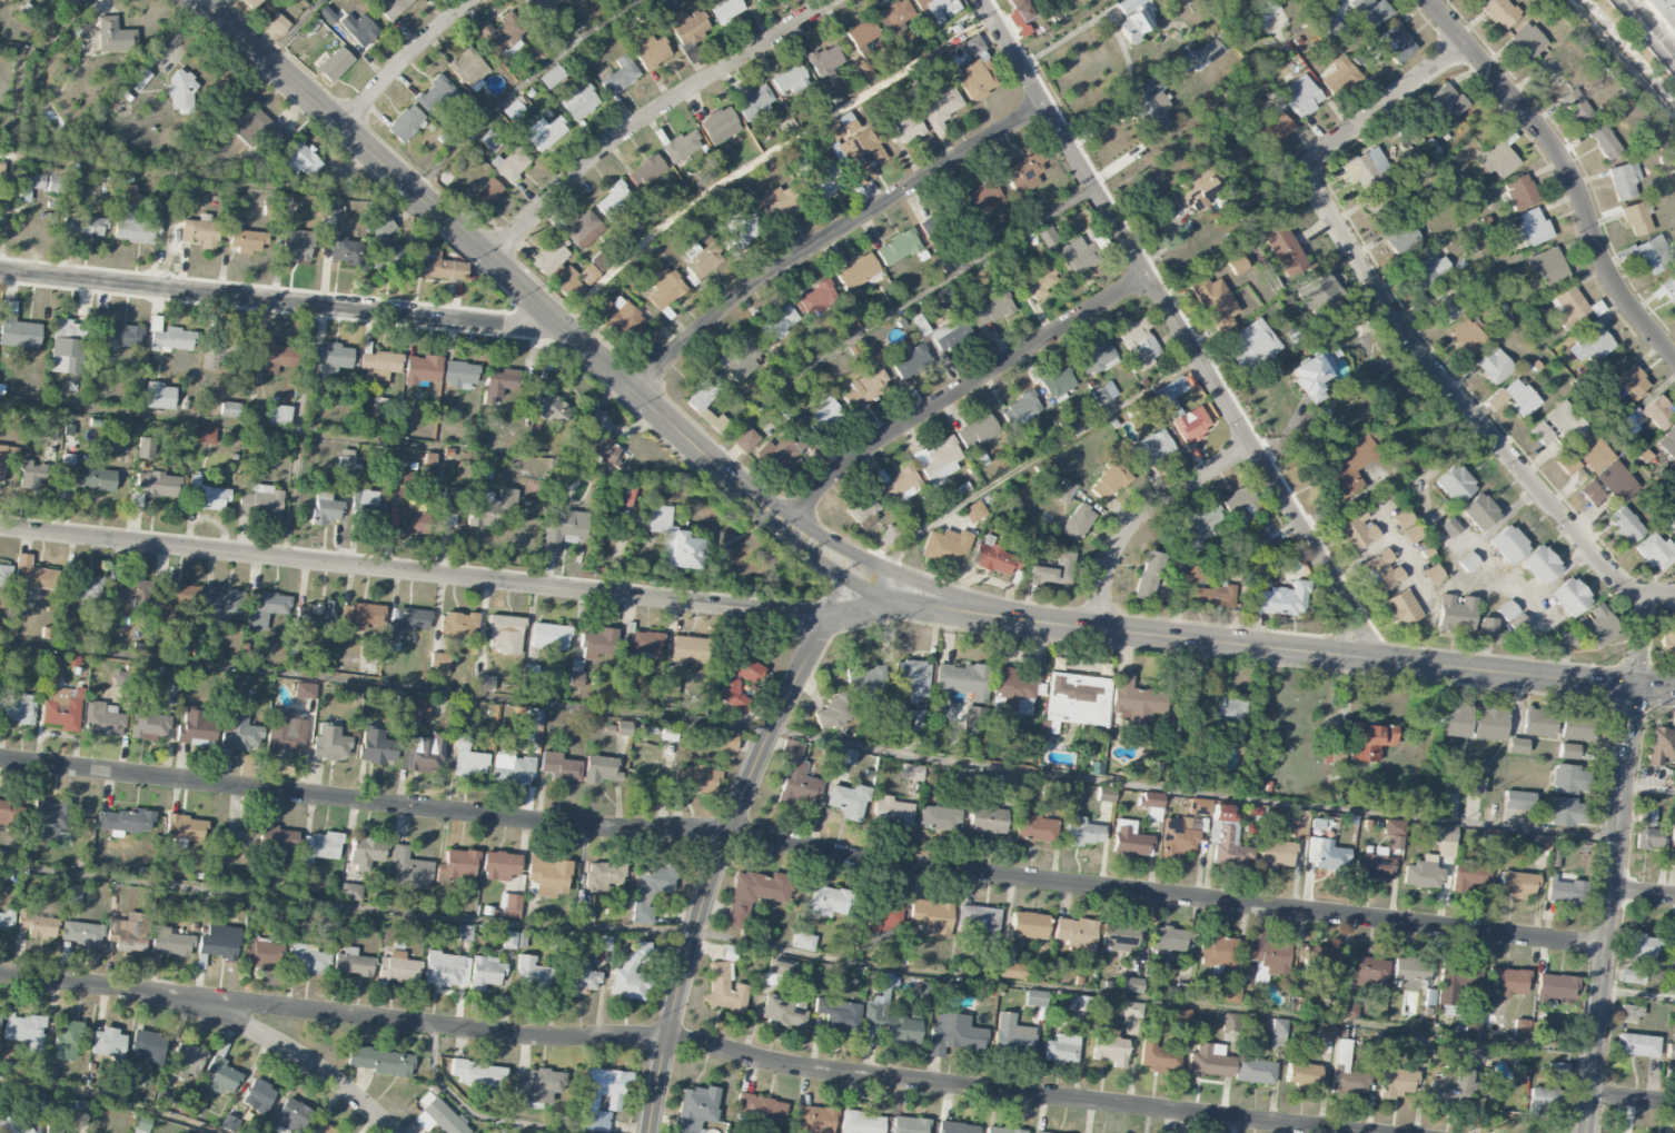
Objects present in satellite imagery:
building: (1338, 0)
building: (1473, 0)
building: (759, 1)
building: (252, 3)
building: (67, 4)
building: (543, 6)
building: (392, 8)
building: (936, 8)
building: (725, 9)
building: (1266, 9)
building: (1370, 11)
building: (1499, 12)
building: (1663, 13)
building: (1020, 14)
building: (894, 18)
building: (1132, 19)
building: (278, 23)
building: (1330, 24)
building: (688, 27)
road: (293, 29)
building: (358, 29)
building: (113, 36)
building: (500, 36)
building: (861, 36)
building: (1527, 40)
building: (1395, 43)
building: (973, 44)
building: (652, 52)
building: (1203, 53)
road: (404, 61)
building: (825, 62)
building: (335, 63)
building: (468, 67)
building: (620, 76)
building: (1339, 76)
building: (138, 78)
building: (972, 80)
building: (790, 81)
road: (521, 87)
building: (180, 91)
building: (437, 95)
building: (1301, 96)
building: (579, 101)
building: (1445, 101)
building: (754, 102)
building: (1149, 102)
building: (936, 103)
building: (1576, 108)
road: (650, 116)
building: (405, 123)
building: (718, 126)
building: (1276, 126)
building: (257, 129)
building: (904, 129)
building: (545, 133)
building: (1603, 140)
building: (681, 146)
road: (765, 156)
building: (1496, 158)
building: (300, 160)
building: (512, 165)
building: (1364, 168)
building: (646, 169)
building: (1, 172)
road: (1566, 172)
building: (1023, 173)
road: (207, 179)
building: (826, 180)
building: (1623, 180)
building: (29, 183)
building: (54, 183)
building: (1197, 186)
building: (1519, 192)
building: (486, 195)
building: (981, 197)
building: (613, 199)
building: (779, 203)
building: (331, 207)
building: (1223, 212)
building: (1635, 218)
building: (131, 219)
building: (83, 226)
building: (1533, 227)
building: (741, 228)
building: (583, 229)
building: (199, 231)
road: (831, 236)
building: (1400, 237)
building: (247, 241)
building: (298, 245)
building: (385, 246)
building: (898, 247)
building: (1286, 249)
building: (346, 250)
building: (1654, 254)
building: (1076, 257)
building: (702, 259)
building: (434, 265)
building: (1237, 265)
building: (1547, 265)
building: (559, 269)
building: (1426, 269)
building: (856, 272)
building: (587, 275)
building: (1039, 280)
building: (1666, 288)
building: (665, 289)
building: (1321, 296)
building: (816, 298)
road: (285, 302)
building: (1215, 302)
building: (1448, 302)
building: (1568, 306)
road: (893, 310)
building: (990, 310)
building: (621, 316)
road: (1394, 320)
building: (777, 322)
building: (17, 328)
road: (1180, 330)
building: (950, 334)
building: (120, 336)
building: (1469, 336)
building: (171, 339)
building: (1590, 342)
building: (1139, 344)
building: (67, 346)
building: (1252, 346)
building: (216, 349)
building: (274, 357)
building: (741, 358)
building: (1096, 358)
building: (331, 359)
building: (911, 362)
building: (379, 364)
building: (1494, 366)
building: (423, 369)
building: (460, 375)
building: (1310, 375)
building: (1058, 382)
building: (1631, 382)
building: (498, 384)
building: (866, 388)
building: (702, 392)
road: (961, 392)
building: (1103, 394)
building: (159, 396)
building: (1520, 397)
building: (1021, 408)
building: (229, 409)
building: (1171, 409)
building: (553, 410)
building: (823, 410)
building: (1657, 414)
building: (283, 415)
building: (791, 415)
building: (1565, 421)
building: (977, 431)
building: (1540, 434)
building: (205, 435)
building: (746, 440)
building: (1667, 443)
building: (146, 448)
building: (595, 448)
building: (1153, 449)
building: (1592, 451)
building: (779, 453)
building: (939, 459)
building: (429, 461)
building: (2, 463)
road: (1029, 463)
building: (1567, 463)
building: (1346, 466)
building: (31, 475)
building: (87, 477)
building: (1109, 480)
building: (1616, 481)
building: (898, 483)
building: (1454, 484)
building: (157, 485)
building: (403, 486)
building: (1063, 491)
building: (1592, 493)
building: (208, 496)
building: (261, 501)
building: (369, 504)
building: (452, 506)
building: (493, 508)
building: (861, 508)
building: (1240, 508)
building: (326, 509)
building: (973, 511)
building: (1479, 511)
road: (1143, 516)
building: (406, 521)
building: (1077, 523)
building: (1626, 525)
building: (1202, 527)
building: (1406, 527)
building: (1449, 527)
building: (1355, 529)
building: (563, 530)
building: (889, 536)
building: (673, 540)
building: (1507, 544)
building: (946, 547)
building: (1260, 547)
road: (821, 550)
building: (1656, 550)
building: (993, 557)
building: (1539, 564)
building: (1051, 570)
building: (1380, 572)
road: (413, 573)
building: (1147, 575)
building: (1193, 575)
building: (1431, 575)
building: (4, 577)
building: (29, 579)
road: (835, 589)
road: (1659, 592)
building: (77, 593)
building: (128, 593)
building: (1210, 596)
building: (1569, 596)
building: (175, 597)
building: (1283, 599)
building: (219, 606)
building: (265, 608)
building: (1400, 608)
building: (316, 614)
building: (1455, 614)
building: (360, 615)
building: (1671, 619)
building: (407, 623)
building: (1517, 624)
building: (457, 625)
building: (1487, 626)
building: (1594, 627)
building: (504, 634)
building: (549, 636)
building: (1565, 638)
road: (1639, 640)
building: (1667, 643)
building: (598, 644)
building: (642, 645)
building: (690, 649)
building: (439, 664)
building: (51, 668)
building: (531, 673)
building: (575, 674)
building: (169, 675)
building: (911, 678)
building: (963, 679)
building: (866, 680)
building: (739, 682)
building: (484, 683)
traffic signals: (1634, 689)
building: (305, 690)
road: (1654, 692)
building: (1074, 700)
building: (1136, 703)
building: (61, 706)
building: (418, 706)
building: (18, 709)
building: (835, 710)
building: (1228, 710)
building: (531, 716)
building: (1453, 718)
building: (103, 719)
building: (972, 720)
building: (147, 722)
building: (1488, 722)
building: (1538, 723)
building: (1576, 726)
building: (623, 727)
building: (196, 728)
building: (239, 733)
building: (285, 734)
road: (809, 737)
building: (725, 741)
building: (1369, 741)
building: (330, 744)
building: (1516, 745)
building: (1659, 745)
building: (376, 746)
building: (1568, 751)
building: (424, 753)
building: (844, 755)
building: (470, 763)
building: (559, 767)
building: (512, 768)
building: (601, 769)
building: (911, 772)
building: (796, 776)
building: (700, 778)
building: (1568, 779)
building: (1008, 782)
road: (1648, 786)
building: (1474, 787)
building: (1054, 788)
building: (1107, 794)
building: (849, 801)
building: (1518, 801)
building: (1152, 805)
building: (1199, 806)
building: (1564, 811)
building: (8, 812)
building: (892, 812)
building: (50, 818)
building: (939, 818)
building: (126, 821)
building: (988, 821)
building: (1298, 824)
building: (1037, 828)
building: (185, 829)
road: (732, 829)
building: (1648, 831)
building: (1083, 833)
building: (1394, 833)
building: (1446, 833)
building: (236, 837)
building: (1177, 837)
building: (1490, 837)
building: (276, 839)
building: (1130, 839)
building: (1227, 839)
building: (1673, 839)
building: (1540, 843)
road: (802, 846)
building: (319, 847)
building: (366, 852)
building: (1276, 853)
building: (1325, 855)
building: (456, 865)
building: (499, 865)
building: (1374, 866)
building: (410, 869)
building: (602, 873)
building: (1421, 873)
building: (548, 876)
building: (1468, 876)
building: (1516, 884)
building: (650, 889)
building: (1565, 891)
building: (350, 892)
road: (1643, 893)
building: (754, 894)
building: (73, 895)
building: (826, 902)
building: (511, 905)
road: (1608, 911)
building: (584, 913)
building: (932, 917)
building: (7, 921)
building: (880, 921)
building: (979, 922)
building: (36, 923)
building: (1028, 925)
building: (129, 932)
building: (82, 933)
building: (464, 933)
building: (1076, 933)
building: (1119, 936)
building: (509, 940)
building: (219, 941)
building: (1168, 941)
building: (170, 942)
building: (803, 942)
building: (1641, 945)
building: (1218, 951)
road: (796, 952)
building: (264, 953)
building: (1266, 953)
building: (1673, 954)
building: (1312, 957)
building: (307, 958)
building: (351, 963)
building: (1011, 966)
building: (398, 967)
building: (777, 968)
building: (446, 970)
building: (1366, 971)
building: (485, 972)
building: (632, 972)
building: (1409, 972)
building: (533, 975)
building: (1633, 976)
building: (579, 978)
building: (1455, 981)
building: (1506, 982)
building: (1131, 984)
building: (1555, 986)
building: (723, 990)
road: (1637, 993)
building: (1231, 994)
building: (1035, 997)
building: (879, 1006)
building: (1347, 1011)
building: (782, 1012)
building: (1128, 1013)
building: (1629, 1013)
building: (839, 1015)
building: (1179, 1015)
building: (1229, 1023)
building: (1546, 1026)
building: (901, 1028)
building: (1520, 1028)
building: (1325, 1031)
building: (24, 1032)
building: (1278, 1032)
building: (954, 1034)
building: (1013, 1034)
building: (66, 1040)
road: (677, 1042)
building: (107, 1043)
building: (1419, 1043)
building: (1636, 1045)
building: (147, 1046)
building: (1109, 1046)
building: (1061, 1048)
building: (1671, 1048)
building: (1477, 1051)
road: (296, 1054)
building: (1158, 1056)
building: (186, 1061)
building: (379, 1061)
building: (1210, 1061)
building: (1556, 1070)
building: (1255, 1071)
building: (477, 1073)
building: (1347, 1073)
building: (1302, 1074)
building: (221, 1076)
building: (1397, 1083)
building: (1460, 1086)
building: (537, 1087)
building: (258, 1096)
road: (109, 1097)
building: (165, 1099)
road: (1632, 1099)
building: (1544, 1101)
building: (588, 1103)
building: (695, 1109)
building: (760, 1109)
road: (470, 1112)
building: (291, 1115)
building: (438, 1117)
building: (813, 1119)
building: (228, 1123)
building: (861, 1123)
building: (141, 1124)
building: (54, 1125)
building: (910, 1125)
building: (957, 1127)
building: (14, 1129)
building: (324, 1129)
building: (1003, 1130)
building: (197, 1132)
building: (259, 1132)
building: (1037, 1132)

